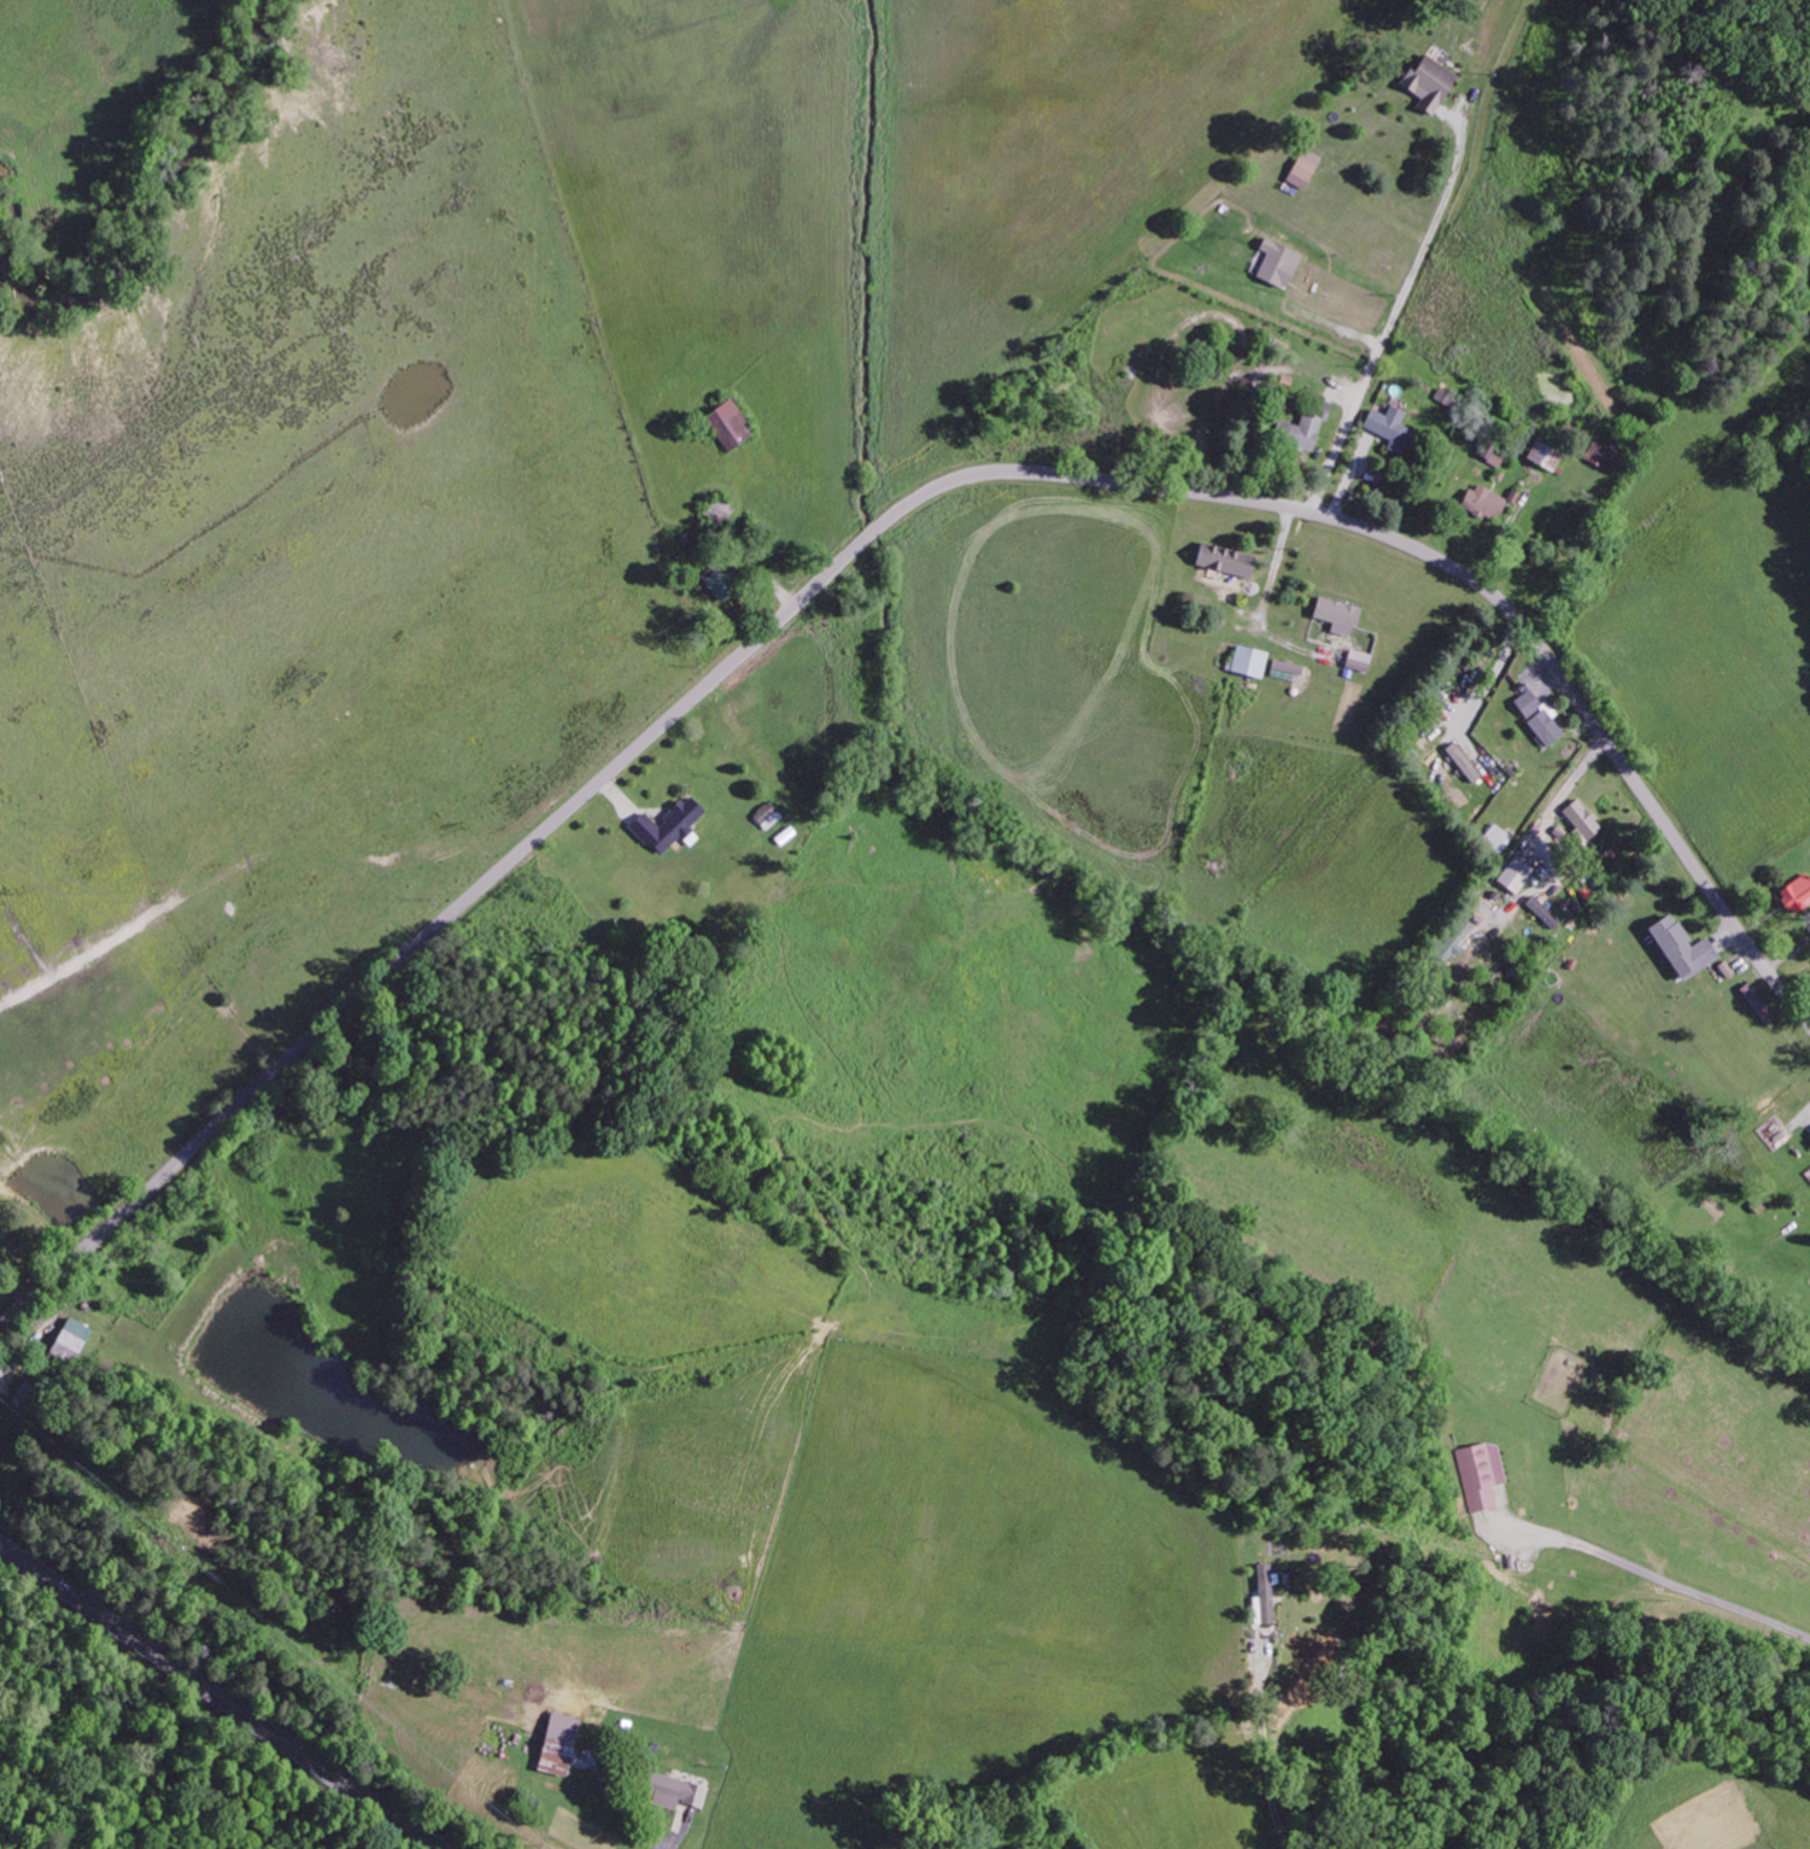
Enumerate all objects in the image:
building: (1429, 83)
building: (1304, 169)
building: (1277, 264)
building: (728, 425)
building: (1302, 428)
building: (1393, 431)
building: (1493, 455)
building: (1545, 456)
building: (1599, 456)
building: (1486, 502)
road: (879, 528)
building: (1225, 558)
building: (1224, 583)
building: (1337, 614)
building: (1249, 660)
building: (1287, 668)
building: (1537, 716)
building: (1463, 761)
building: (1447, 779)
building: (767, 814)
building: (1581, 818)
building: (669, 825)
building: (1496, 837)
building: (1515, 874)
building: (1796, 893)
building: (1454, 938)
building: (1681, 947)
building: (69, 1340)
building: (0, 1439)
building: (1480, 1474)
building: (1263, 1593)
road: (223, 1698)
building: (557, 1744)
building: (673, 1791)
road: (674, 1833)

